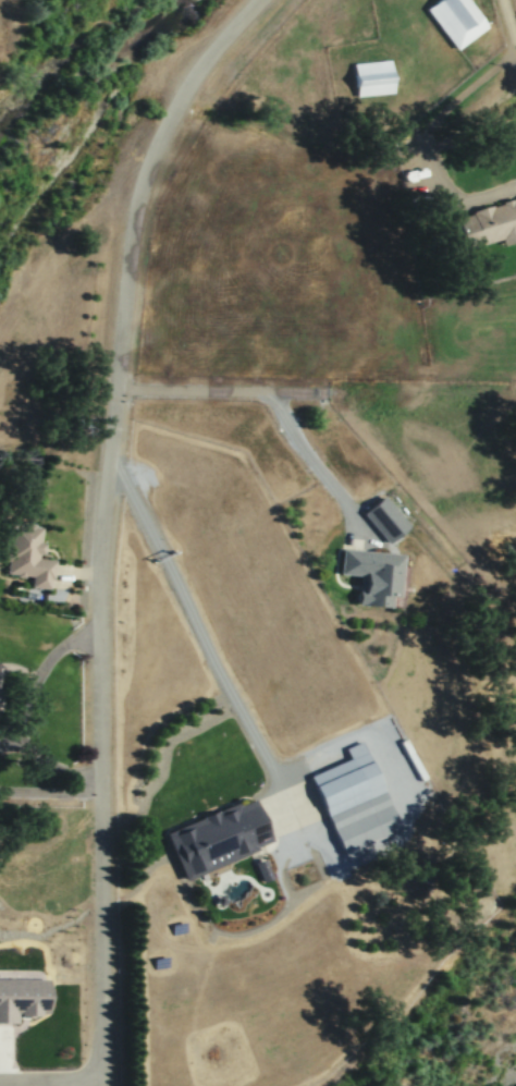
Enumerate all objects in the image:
building: (456, 19)
road: (506, 19)
road: (514, 44)
building: (371, 76)
road: (427, 135)
building: (492, 220)
road: (224, 390)
road: (317, 467)
road: (112, 517)
building: (384, 517)
building: (27, 554)
building: (373, 574)
road: (214, 658)
road: (38, 668)
road: (56, 766)
road: (54, 792)
building: (354, 798)
building: (217, 837)
building: (262, 869)
building: (21, 998)
road: (91, 1083)

